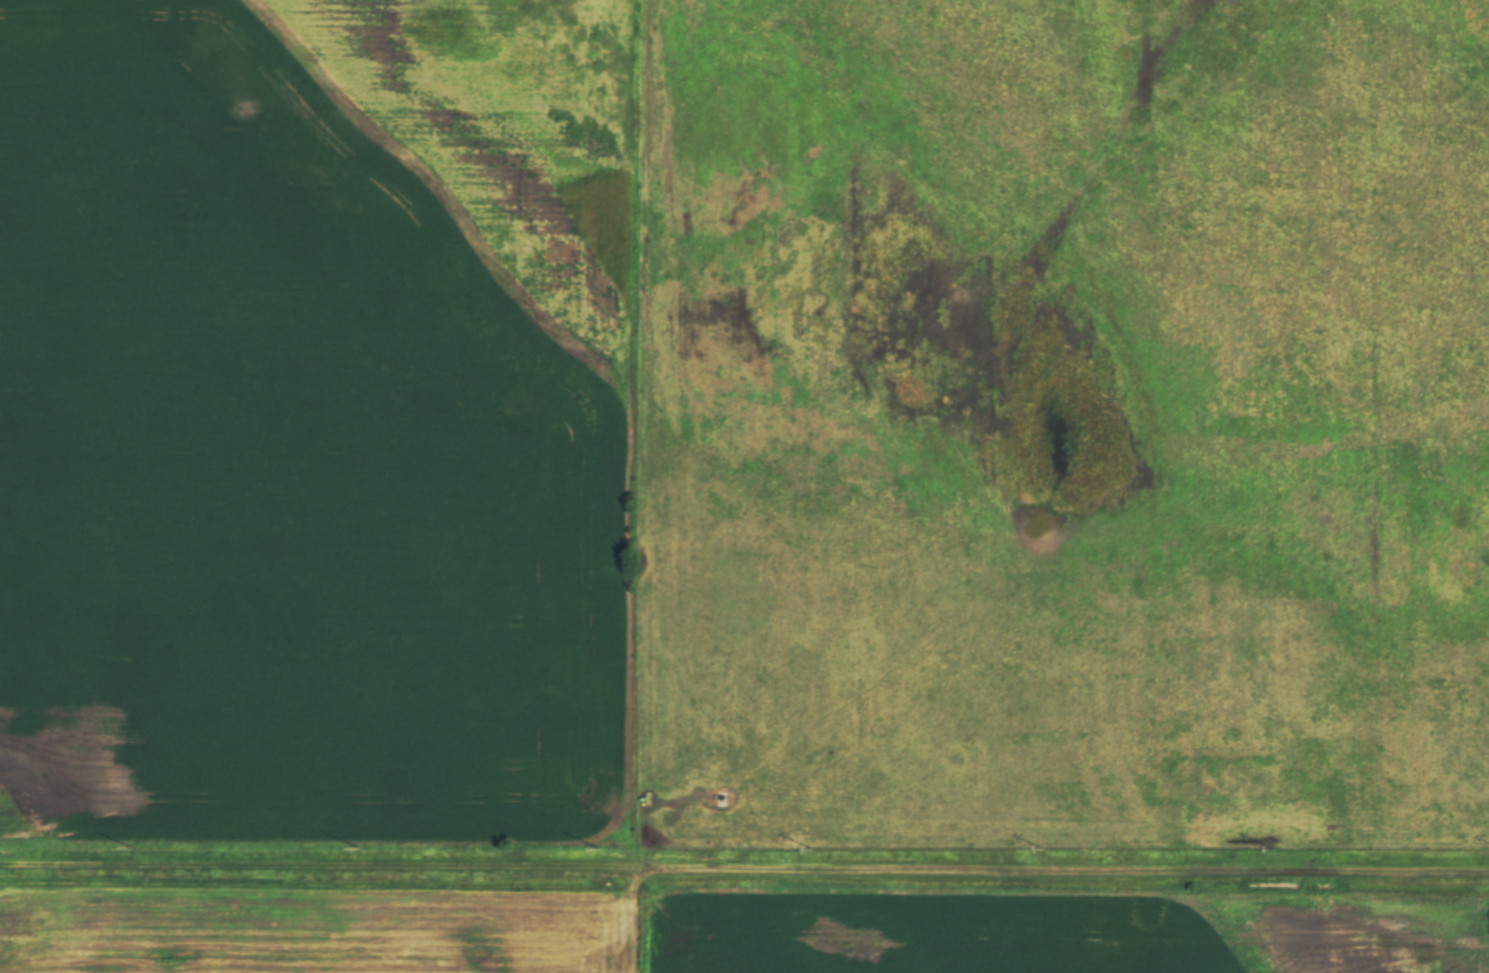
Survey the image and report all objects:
road: (744, 867)
road: (635, 919)

